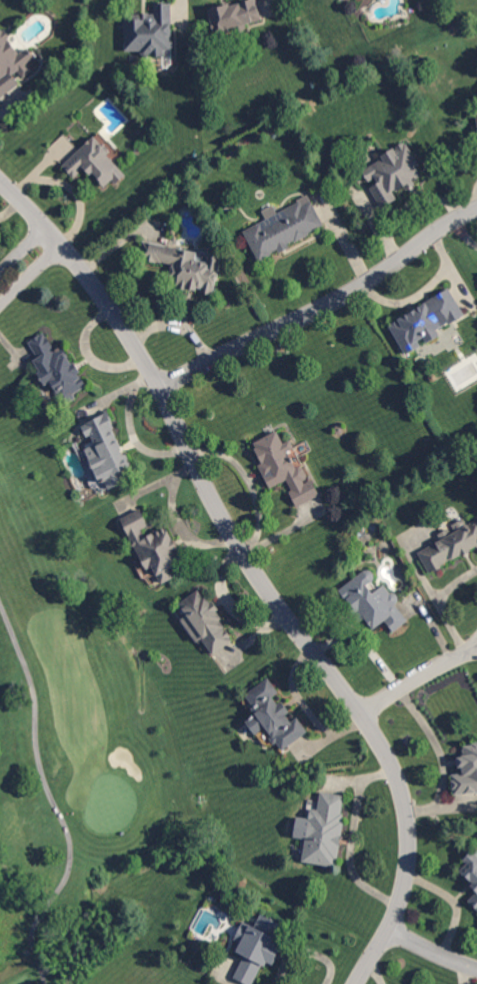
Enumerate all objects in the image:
building: (235, 16)
building: (148, 32)
building: (12, 63)
building: (476, 117)
building: (474, 131)
building: (94, 165)
building: (394, 173)
road: (472, 196)
building: (283, 229)
road: (26, 263)
building: (185, 267)
road: (423, 289)
road: (324, 307)
building: (427, 321)
building: (58, 370)
building: (433, 378)
road: (130, 431)
building: (339, 431)
building: (107, 452)
building: (285, 468)
building: (451, 545)
building: (154, 547)
building: (388, 565)
road: (255, 570)
building: (373, 602)
park: (97, 614)
building: (205, 623)
road: (417, 678)
building: (273, 717)
building: (467, 772)
road: (52, 802)
building: (325, 832)
road: (349, 837)
building: (470, 869)
building: (474, 902)
road: (453, 903)
building: (257, 948)
road: (432, 950)

